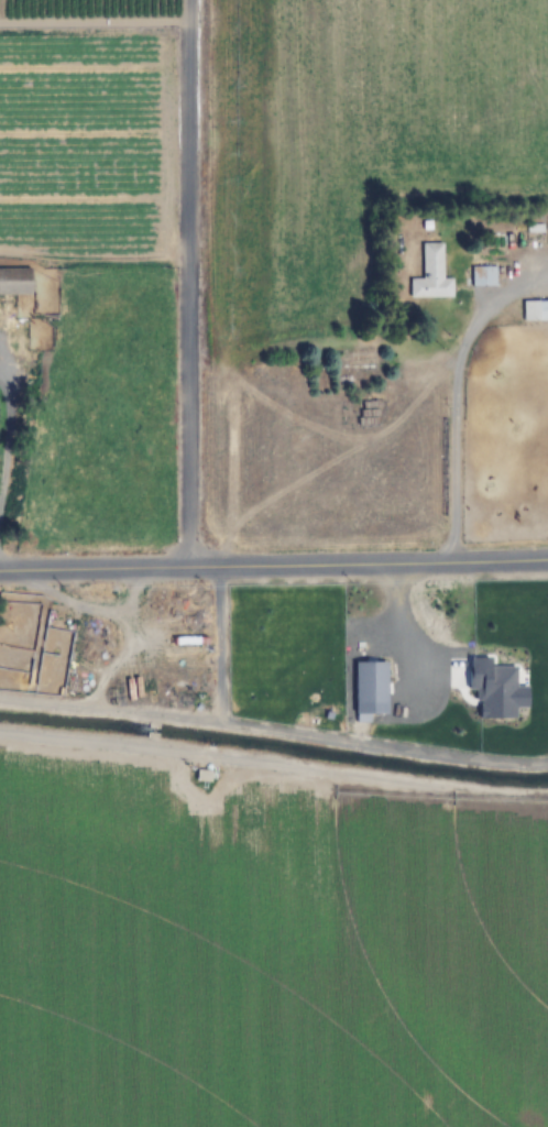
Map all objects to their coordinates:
building: (515, 242)
building: (432, 261)
building: (484, 275)
building: (15, 280)
building: (535, 311)
road: (274, 567)

